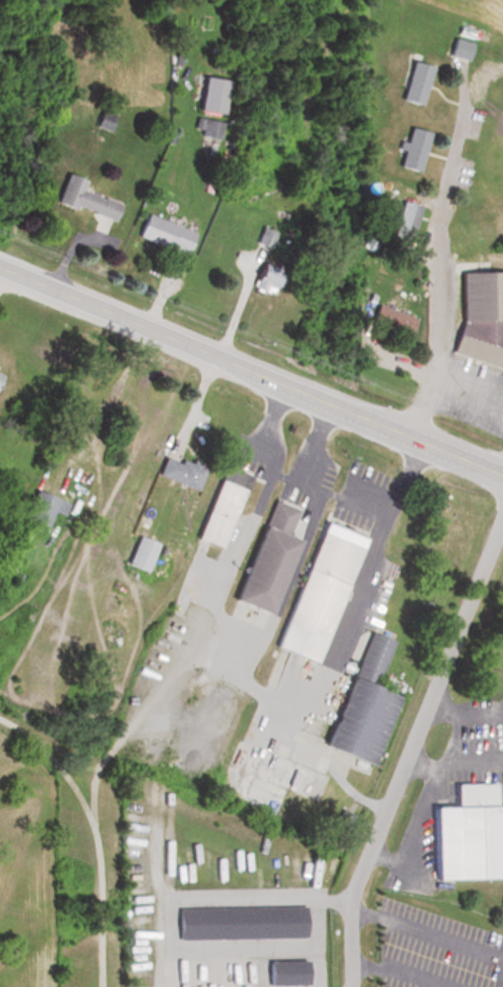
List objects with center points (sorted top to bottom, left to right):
building: (456, 48)
building: (410, 81)
building: (210, 94)
building: (208, 127)
building: (409, 148)
building: (84, 200)
building: (401, 221)
building: (163, 232)
building: (264, 236)
road: (432, 262)
building: (262, 278)
road: (234, 312)
building: (479, 316)
building: (390, 319)
road: (251, 370)
road: (469, 385)
road: (500, 457)
building: (183, 475)
parking lot: (310, 483)
parking lot: (365, 499)
road: (375, 500)
building: (222, 509)
building: (42, 510)
building: (267, 562)
building: (318, 596)
road: (345, 628)
road: (241, 632)
building: (364, 707)
road: (449, 713)
road: (484, 720)
road: (412, 752)
road: (460, 758)
road: (433, 771)
road: (95, 832)
building: (468, 834)
road: (414, 836)
building: (240, 923)
road: (427, 935)
parking lot: (436, 951)
building: (285, 973)
road: (398, 973)
road: (502, 986)

